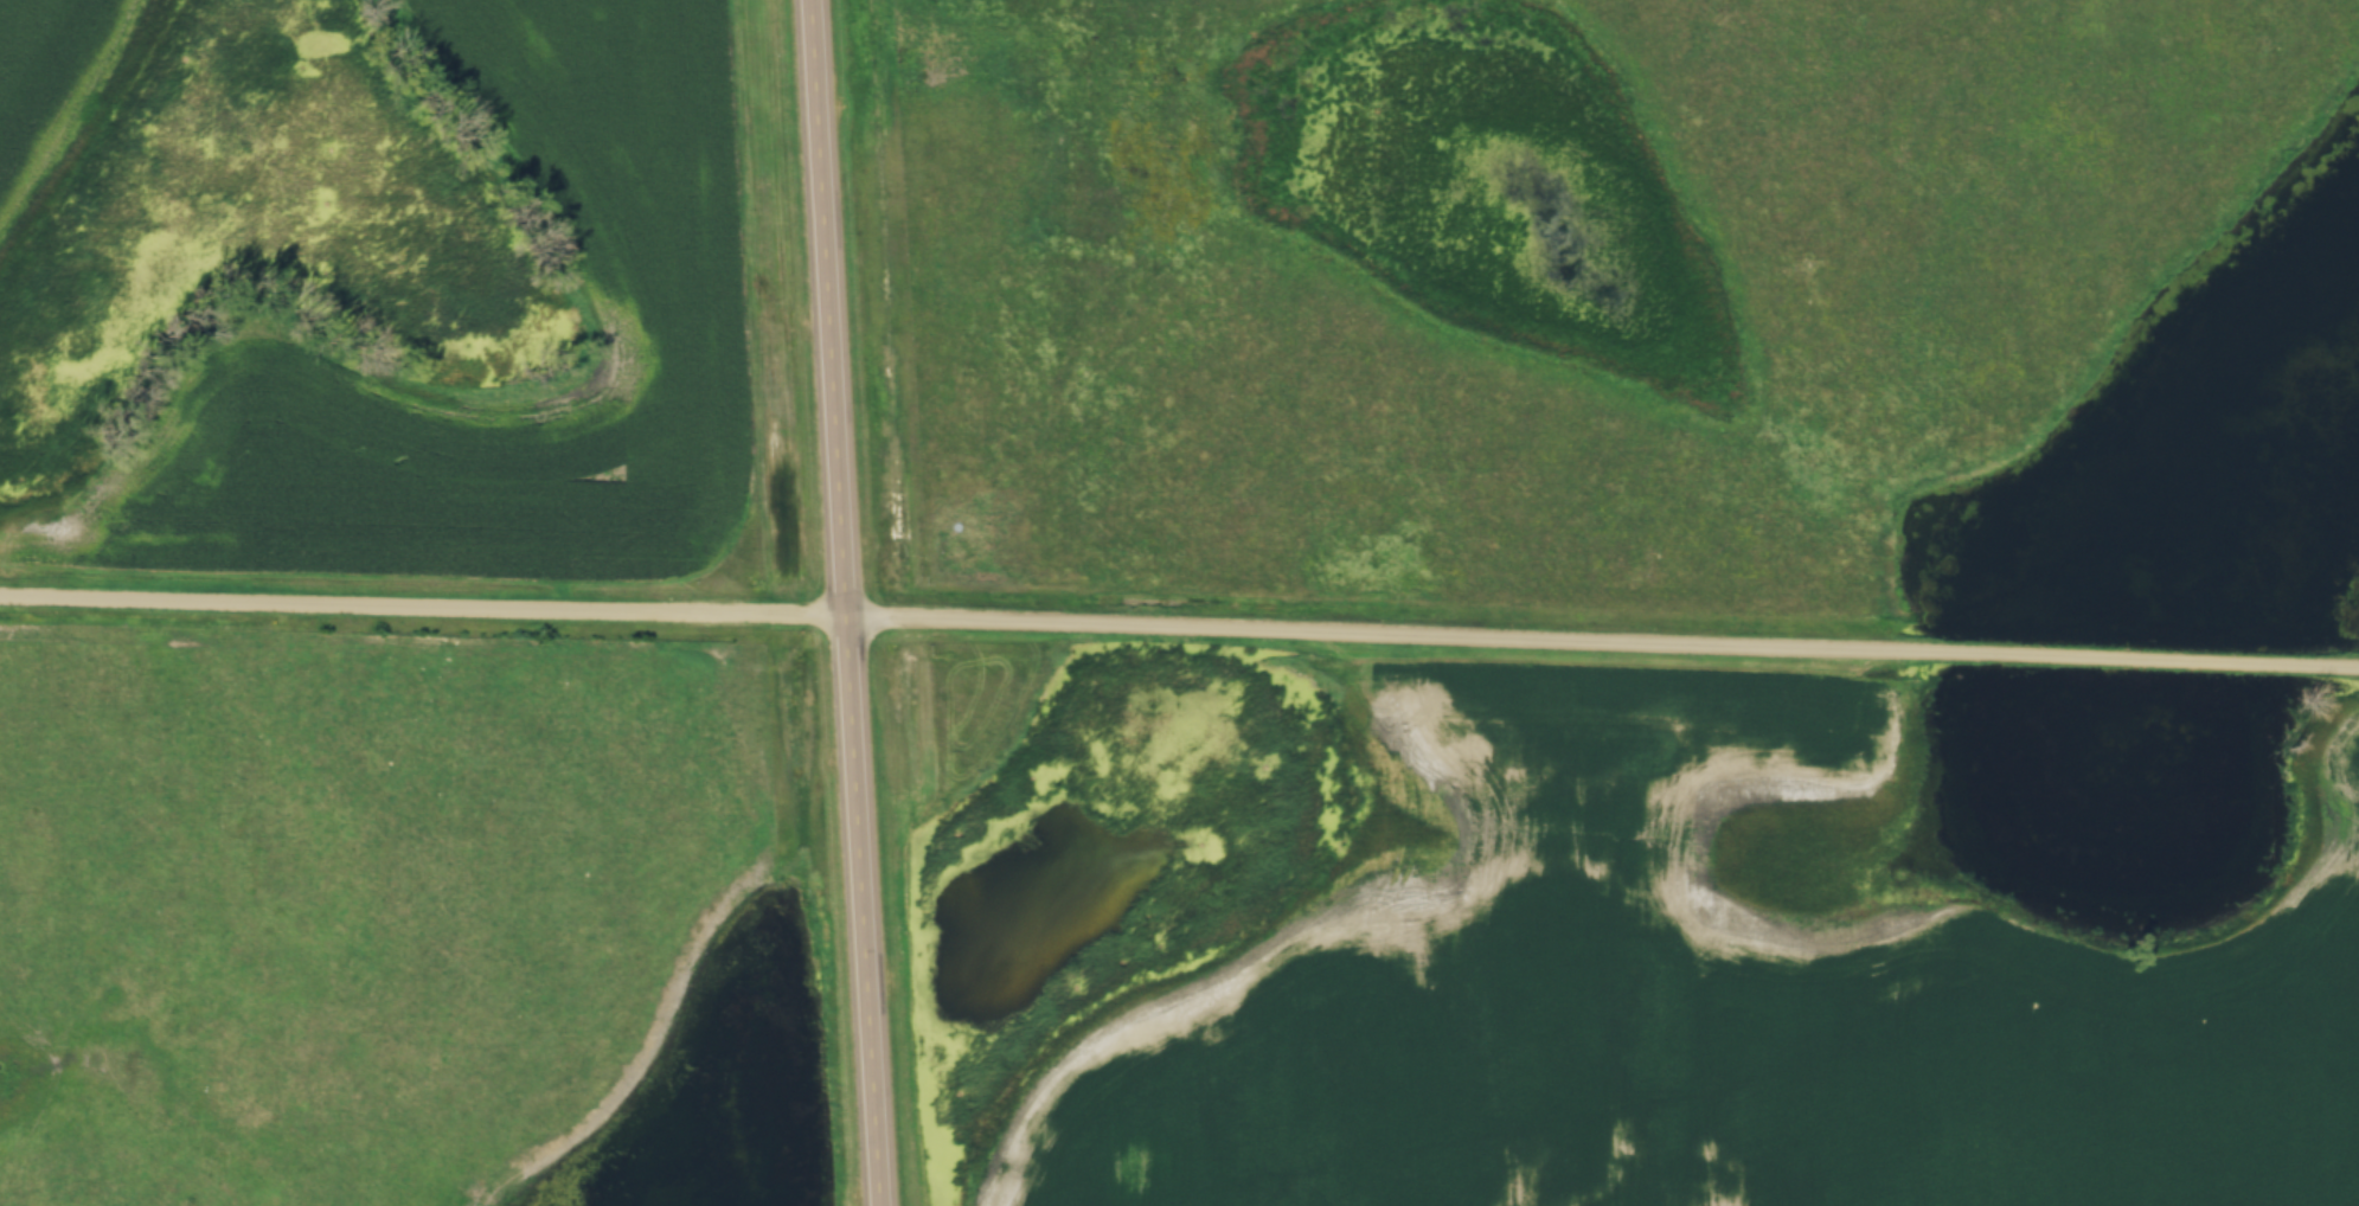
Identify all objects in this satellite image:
road: (847, 603)
road: (1179, 630)

